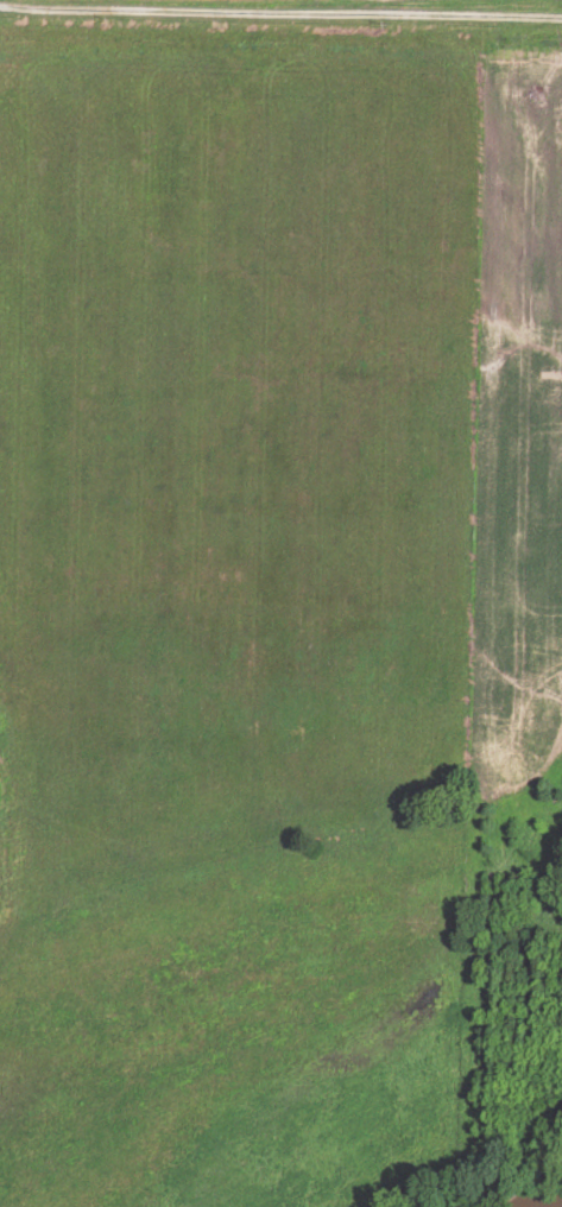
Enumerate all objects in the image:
river: (550, 1201)

